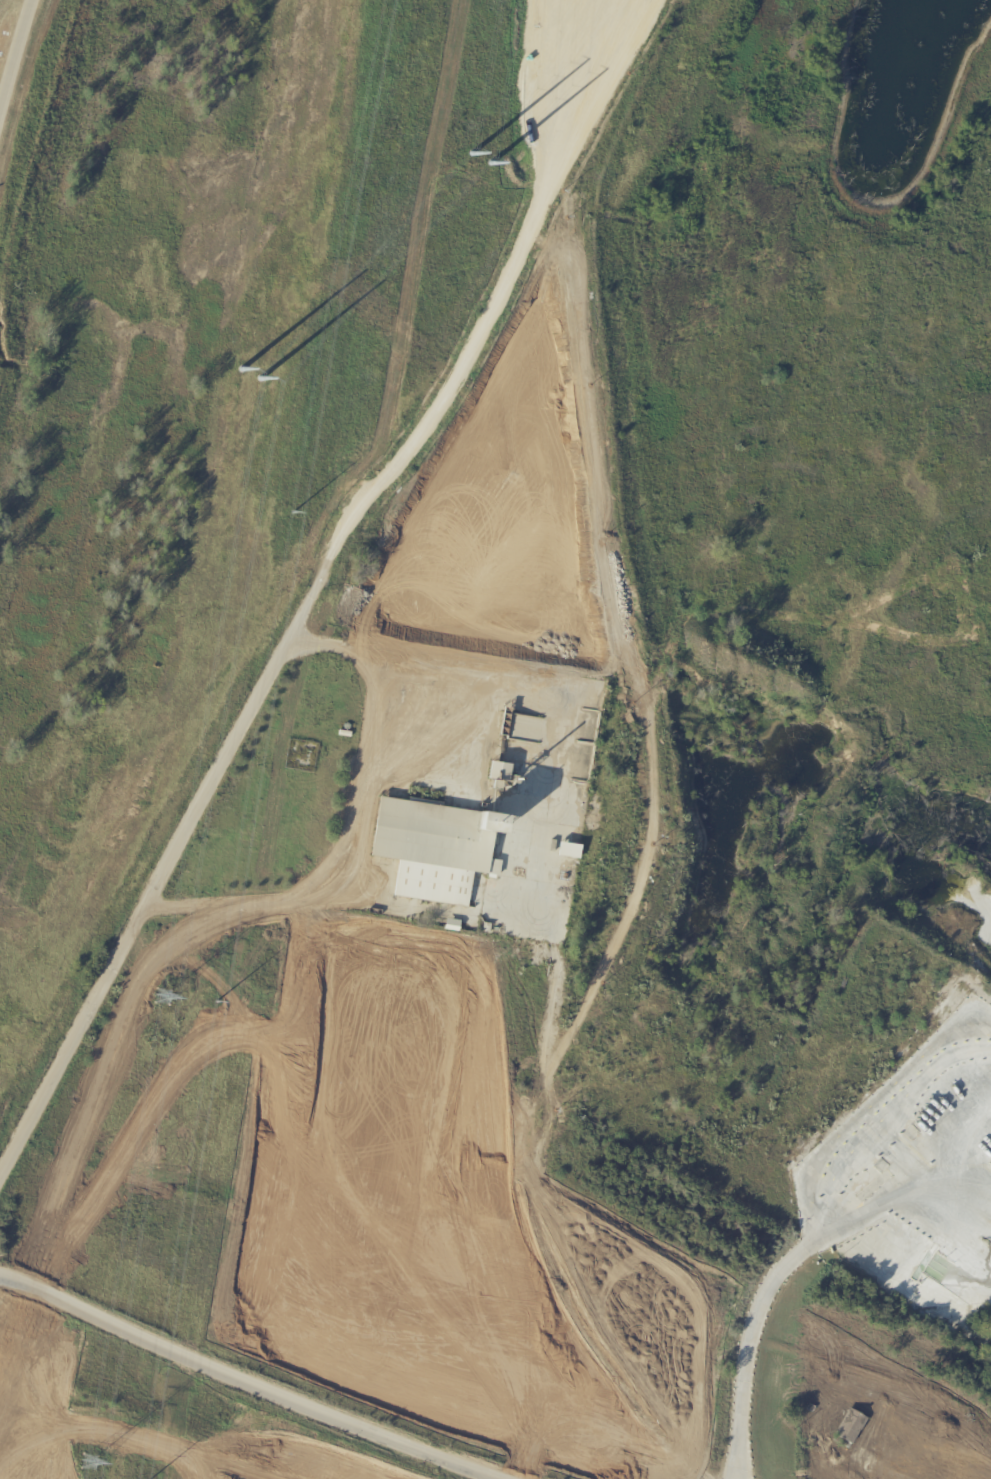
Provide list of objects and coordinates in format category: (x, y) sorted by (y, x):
road: (13, 53)
power tower: (478, 162)
road: (474, 353)
power tower: (247, 373)
power tower: (292, 512)
building: (346, 734)
building: (502, 776)
road: (353, 829)
building: (439, 849)
building: (572, 852)
road: (145, 904)
building: (454, 926)
building: (488, 928)
power tower: (161, 996)
power tower: (214, 1002)
power substation: (366, 1035)
road: (252, 1137)
road: (757, 1346)
power tower: (90, 1463)

